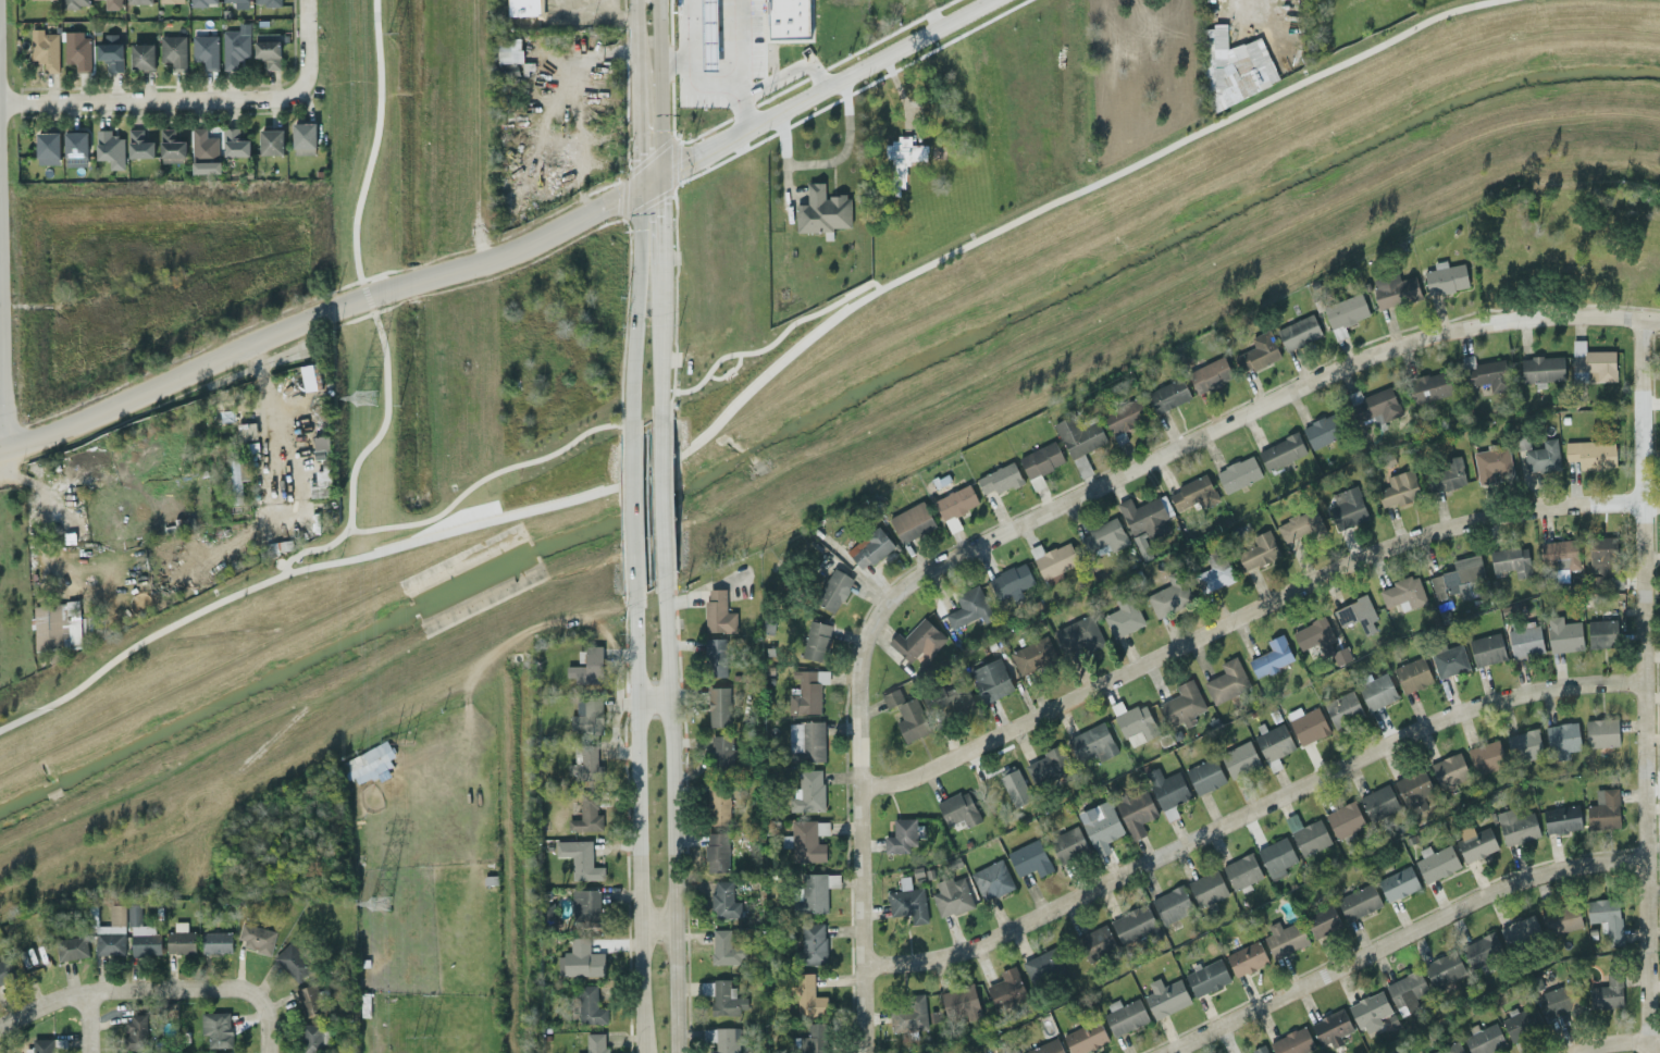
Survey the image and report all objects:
building: (138, 1)
building: (170, 1)
building: (202, 2)
building: (267, 2)
building: (75, 3)
building: (238, 3)
building: (112, 4)
building: (523, 7)
road: (303, 10)
building: (789, 18)
building: (234, 47)
road: (691, 47)
building: (268, 48)
building: (173, 50)
building: (205, 50)
building: (509, 50)
building: (46, 51)
building: (77, 52)
building: (110, 54)
building: (143, 57)
building: (1213, 58)
building: (1243, 79)
road: (757, 85)
road: (184, 98)
road: (741, 111)
building: (302, 137)
building: (271, 140)
building: (234, 141)
road: (845, 144)
building: (139, 145)
building: (171, 145)
building: (48, 148)
building: (76, 148)
building: (110, 148)
building: (205, 151)
road: (781, 153)
building: (902, 158)
traffic signals: (660, 177)
traffic signals: (636, 189)
building: (821, 210)
road: (660, 223)
road: (635, 232)
road: (505, 255)
building: (1445, 277)
building: (1395, 289)
road: (2, 308)
road: (370, 309)
building: (1346, 310)
building: (1298, 331)
road: (776, 337)
building: (1258, 350)
building: (1591, 363)
building: (1541, 368)
road: (727, 371)
building: (1209, 373)
building: (309, 375)
road: (753, 384)
building: (1428, 385)
building: (1167, 394)
power tower: (361, 397)
building: (1376, 406)
building: (1125, 414)
road: (1221, 426)
building: (246, 430)
river: (820, 430)
building: (1323, 430)
building: (1078, 434)
building: (320, 443)
building: (1280, 450)
building: (1590, 453)
building: (1541, 457)
building: (1041, 459)
building: (1491, 463)
road: (2, 466)
road: (4, 467)
building: (1238, 473)
building: (1447, 474)
building: (237, 475)
building: (1000, 479)
building: (321, 482)
road: (475, 482)
building: (1398, 488)
building: (1192, 495)
road: (667, 505)
building: (1346, 507)
building: (1144, 516)
road: (629, 521)
building: (912, 521)
building: (1300, 526)
building: (1104, 537)
building: (869, 547)
building: (1259, 550)
building: (1560, 553)
building: (1602, 554)
building: (1055, 560)
building: (1511, 560)
building: (1218, 569)
building: (1457, 575)
building: (1009, 580)
building: (833, 590)
building: (1403, 592)
building: (1169, 594)
building: (968, 607)
building: (718, 611)
building: (1355, 611)
road: (1241, 616)
building: (1123, 617)
building: (50, 627)
building: (1313, 633)
building: (1602, 633)
building: (1563, 634)
building: (1078, 636)
building: (816, 640)
building: (917, 640)
building: (1525, 640)
building: (1486, 648)
building: (1032, 654)
building: (1340, 655)
building: (715, 656)
building: (1271, 656)
building: (1449, 659)
building: (586, 666)
building: (1412, 674)
building: (991, 679)
building: (1226, 680)
road: (1640, 686)
building: (1376, 691)
building: (806, 692)
building: (949, 696)
building: (892, 697)
road: (654, 701)
building: (1182, 704)
building: (718, 705)
building: (1342, 708)
building: (587, 718)
building: (910, 720)
building: (1133, 722)
building: (1306, 723)
building: (1601, 731)
building: (806, 739)
building: (1561, 739)
building: (1092, 742)
building: (1273, 744)
building: (1524, 745)
building: (722, 752)
building: (1486, 756)
building: (1239, 758)
building: (368, 761)
building: (584, 764)
building: (1045, 766)
building: (1449, 769)
building: (1204, 775)
building: (1002, 784)
building: (1413, 786)
building: (808, 790)
building: (1167, 791)
building: (1378, 802)
building: (718, 804)
road: (671, 807)
building: (958, 808)
building: (1603, 808)
building: (1135, 810)
building: (586, 814)
road: (1248, 814)
road: (635, 815)
building: (1561, 817)
building: (1343, 819)
building: (1100, 825)
building: (1515, 826)
building: (902, 834)
building: (1308, 834)
building: (808, 840)
building: (1475, 842)
building: (1068, 843)
building: (716, 851)
building: (1276, 856)
building: (1029, 857)
building: (579, 858)
building: (1436, 862)
road: (860, 864)
building: (1241, 870)
building: (991, 880)
building: (1398, 882)
building: (1207, 888)
building: (816, 890)
building: (951, 895)
building: (723, 900)
building: (907, 901)
building: (1358, 901)
power tower: (373, 903)
building: (1172, 904)
building: (585, 907)
building: (1606, 917)
building: (1561, 918)
building: (1322, 920)
building: (1133, 922)
road: (655, 924)
building: (1520, 931)
building: (111, 932)
building: (141, 933)
building: (256, 937)
building: (1284, 938)
road: (1398, 938)
building: (179, 939)
building: (216, 941)
building: (813, 942)
building: (1095, 942)
building: (71, 947)
building: (724, 947)
building: (1482, 949)
building: (1246, 958)
building: (580, 959)
building: (293, 962)
building: (1043, 966)
building: (1444, 968)
building: (5, 971)
building: (1205, 977)
building: (1006, 988)
road: (152, 989)
building: (1405, 991)
building: (1607, 992)
building: (808, 995)
building: (1165, 996)
building: (724, 998)
building: (310, 999)
building: (1559, 1000)
building: (959, 1003)
building: (589, 1004)
building: (1370, 1011)
building: (909, 1013)
building: (1124, 1015)
road: (89, 1021)
building: (1521, 1021)
building: (1330, 1027)
building: (215, 1028)
building: (138, 1030)
building: (1085, 1037)
building: (312, 1038)
building: (814, 1038)
building: (722, 1039)
building: (1484, 1039)
building: (1292, 1041)
building: (595, 1042)
road: (1615, 1043)
building: (47, 1044)
building: (1045, 1046)
road: (268, 1049)
building: (1259, 1049)
building: (1449, 1049)

